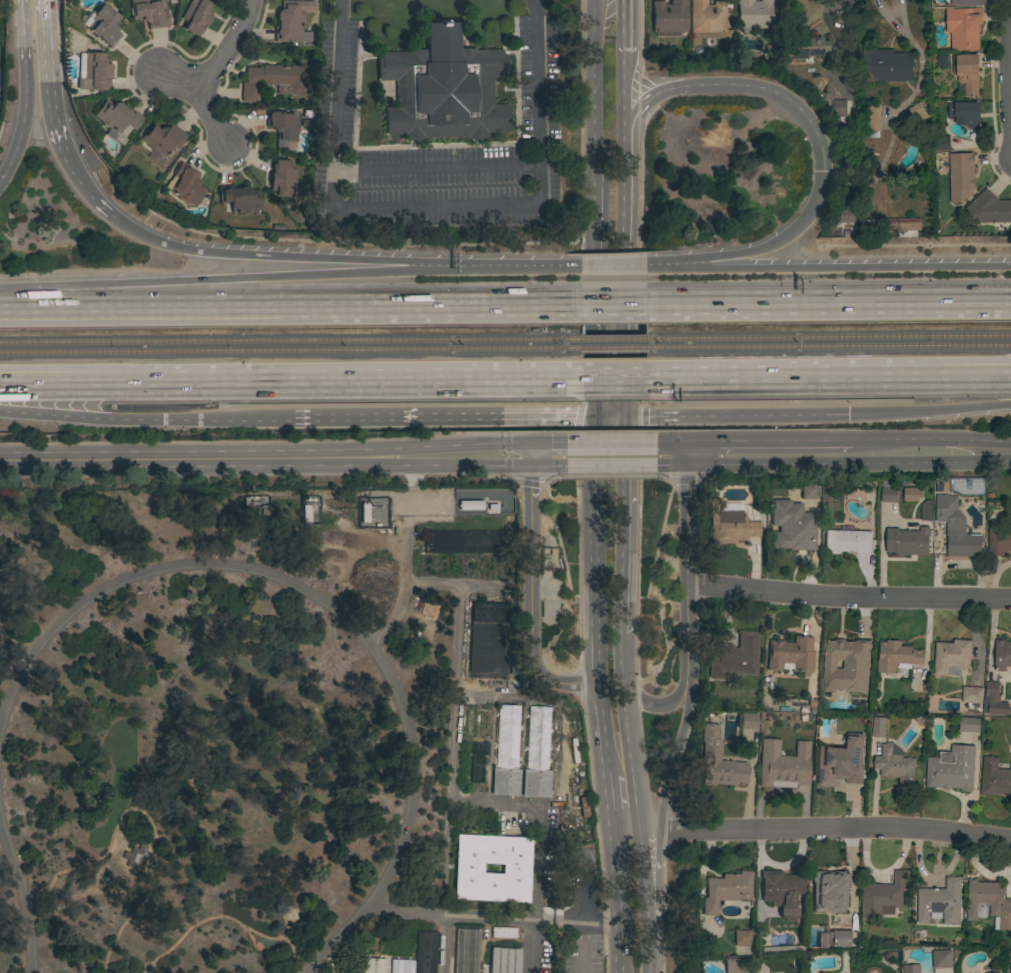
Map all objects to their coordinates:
building: (967, 2)
building: (149, 12)
building: (753, 15)
building: (195, 16)
building: (669, 16)
building: (290, 21)
building: (708, 22)
building: (104, 25)
road: (625, 27)
building: (963, 27)
building: (807, 48)
road: (22, 52)
building: (888, 66)
road: (215, 67)
building: (93, 71)
building: (966, 72)
road: (46, 77)
building: (274, 81)
road: (591, 83)
road: (625, 87)
road: (1009, 87)
building: (442, 88)
road: (774, 97)
road: (650, 98)
building: (839, 112)
building: (919, 113)
building: (967, 114)
building: (117, 119)
road: (211, 119)
building: (871, 120)
building: (282, 126)
building: (162, 141)
building: (941, 143)
road: (17, 145)
road: (436, 165)
building: (960, 176)
building: (282, 181)
building: (186, 184)
road: (624, 187)
road: (82, 188)
building: (239, 198)
road: (434, 206)
building: (989, 208)
building: (845, 212)
building: (314, 222)
building: (905, 227)
road: (754, 251)
road: (272, 258)
road: (612, 266)
road: (827, 266)
road: (512, 268)
road: (221, 284)
road: (594, 292)
road: (624, 305)
road: (829, 305)
road: (616, 308)
road: (292, 312)
railway: (829, 337)
railway: (613, 339)
railway: (290, 341)
railway: (829, 347)
railway: (614, 349)
railway: (290, 351)
road: (831, 374)
road: (616, 375)
road: (290, 379)
road: (623, 387)
road: (930, 411)
road: (609, 418)
road: (736, 418)
road: (440, 419)
road: (142, 420)
road: (768, 442)
road: (922, 442)
road: (670, 443)
traffic signals: (686, 443)
traffic signals: (529, 444)
road: (547, 444)
road: (610, 444)
road: (452, 446)
road: (1001, 452)
road: (188, 459)
road: (610, 460)
road: (823, 460)
road: (470, 461)
road: (529, 475)
building: (806, 493)
building: (888, 494)
building: (911, 496)
building: (469, 503)
building: (492, 505)
building: (263, 511)
building: (363, 511)
building: (305, 512)
building: (924, 512)
building: (789, 525)
road: (622, 527)
building: (731, 527)
building: (956, 528)
building: (464, 541)
building: (847, 541)
building: (906, 541)
building: (998, 541)
road: (686, 566)
road: (591, 593)
road: (848, 598)
road: (335, 609)
road: (530, 623)
building: (488, 637)
building: (790, 655)
building: (845, 655)
building: (1002, 655)
building: (896, 656)
building: (733, 657)
building: (951, 657)
road: (454, 688)
road: (186, 689)
building: (971, 696)
building: (993, 701)
road: (651, 705)
building: (748, 721)
building: (878, 725)
building: (969, 725)
road: (625, 728)
park: (283, 739)
building: (1010, 741)
building: (506, 753)
building: (536, 753)
road: (674, 760)
building: (718, 761)
building: (840, 763)
building: (894, 764)
building: (782, 765)
building: (951, 769)
building: (994, 778)
road: (609, 800)
road: (144, 817)
road: (636, 827)
road: (823, 829)
road: (624, 833)
building: (128, 853)
building: (134, 854)
building: (514, 868)
road: (638, 874)
road: (615, 878)
building: (830, 887)
building: (725, 890)
building: (781, 891)
building: (883, 895)
road: (24, 899)
building: (940, 902)
building: (987, 903)
road: (583, 910)
parking lot: (581, 913)
road: (225, 914)
road: (475, 917)
road: (599, 922)
building: (503, 931)
building: (813, 933)
building: (742, 938)
building: (833, 940)
road: (445, 944)
road: (641, 944)
road: (618, 948)
building: (779, 948)
building: (466, 950)
building: (940, 959)
building: (505, 960)
road: (325, 965)
building: (373, 965)
building: (735, 965)
building: (402, 966)
building: (1009, 967)
building: (910, 968)

